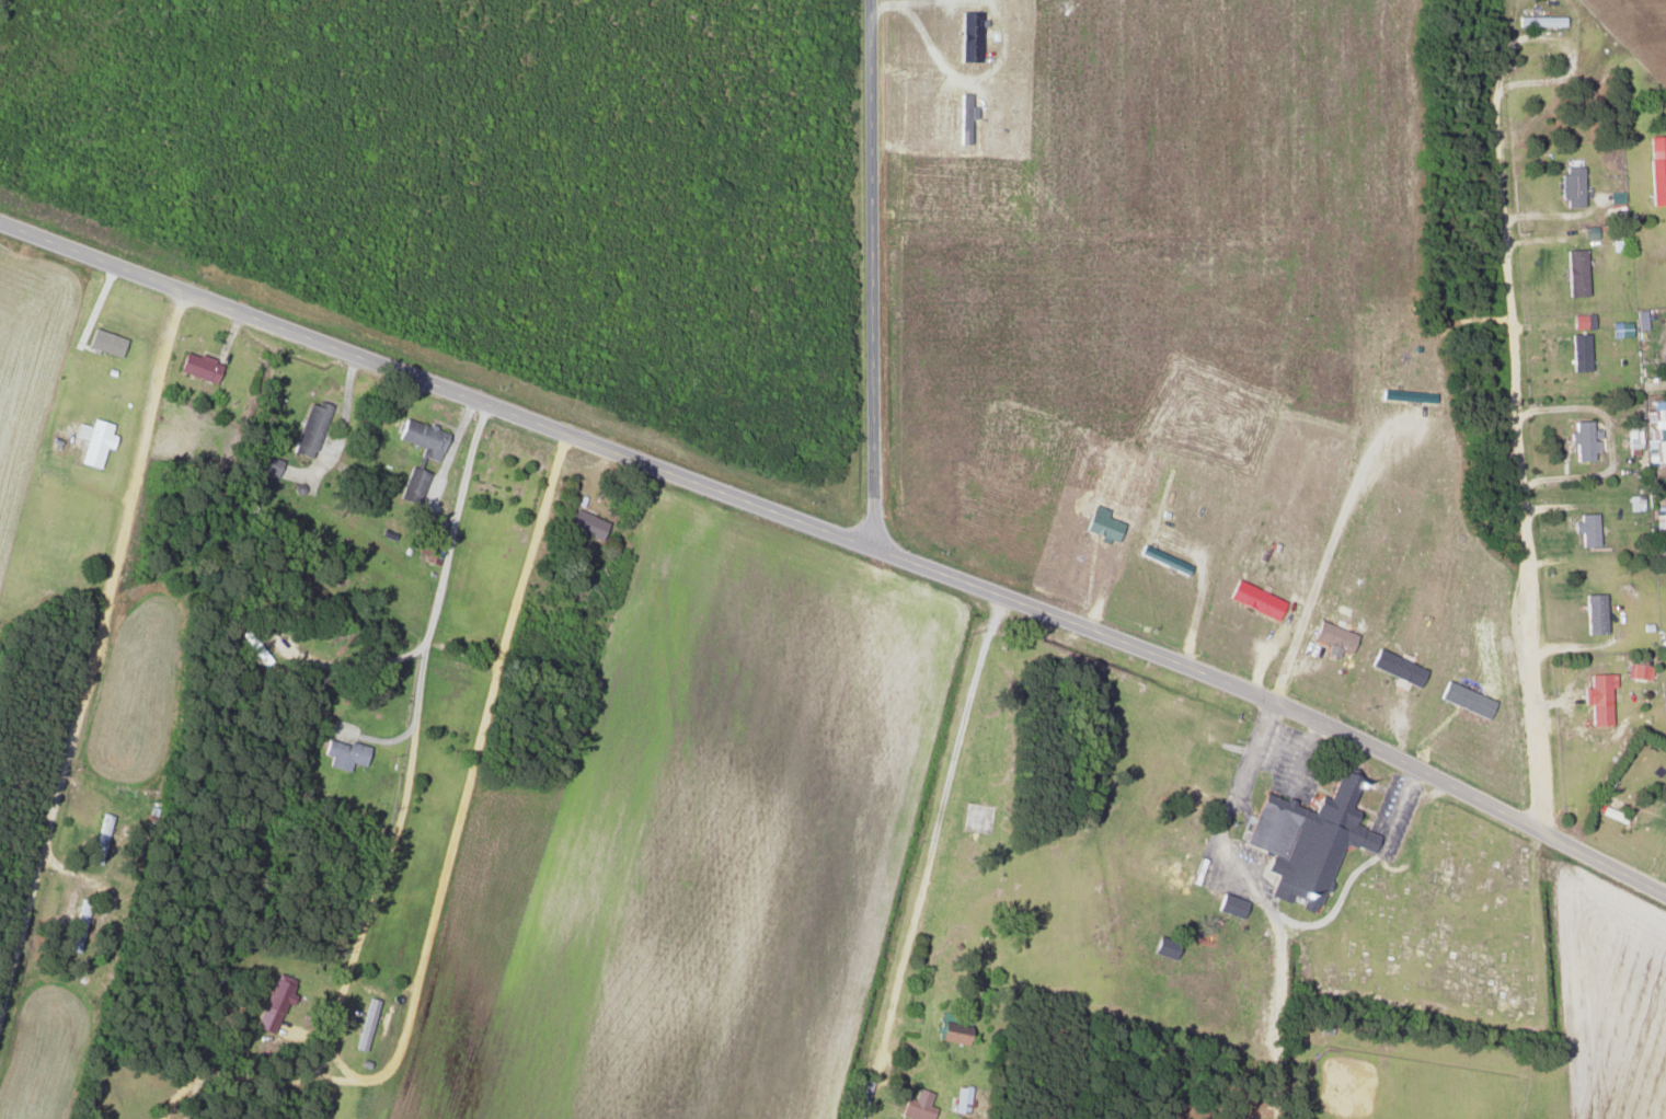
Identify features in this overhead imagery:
building: (1539, 21)
building: (968, 36)
building: (963, 117)
building: (1656, 169)
building: (1570, 185)
building: (1613, 201)
building: (1574, 272)
road: (870, 275)
building: (1581, 321)
building: (104, 342)
building: (1578, 351)
building: (197, 366)
road: (437, 385)
building: (1405, 395)
building: (308, 429)
building: (1655, 430)
building: (420, 437)
building: (1632, 438)
building: (1583, 439)
building: (91, 440)
road: (1520, 451)
building: (264, 464)
building: (413, 484)
building: (1633, 501)
building: (585, 524)
building: (1586, 529)
building: (1161, 558)
building: (1253, 599)
building: (1594, 613)
building: (1331, 636)
road: (88, 638)
building: (1394, 667)
building: (1638, 671)
building: (1597, 699)
road: (1277, 705)
road: (416, 713)
building: (342, 753)
road: (930, 830)
building: (1303, 840)
building: (1665, 857)
road: (1356, 873)
road: (1262, 901)
building: (1228, 904)
building: (1162, 946)
building: (271, 1006)
building: (365, 1024)
building: (951, 1033)
building: (858, 1099)
building: (961, 1099)
building: (917, 1106)

